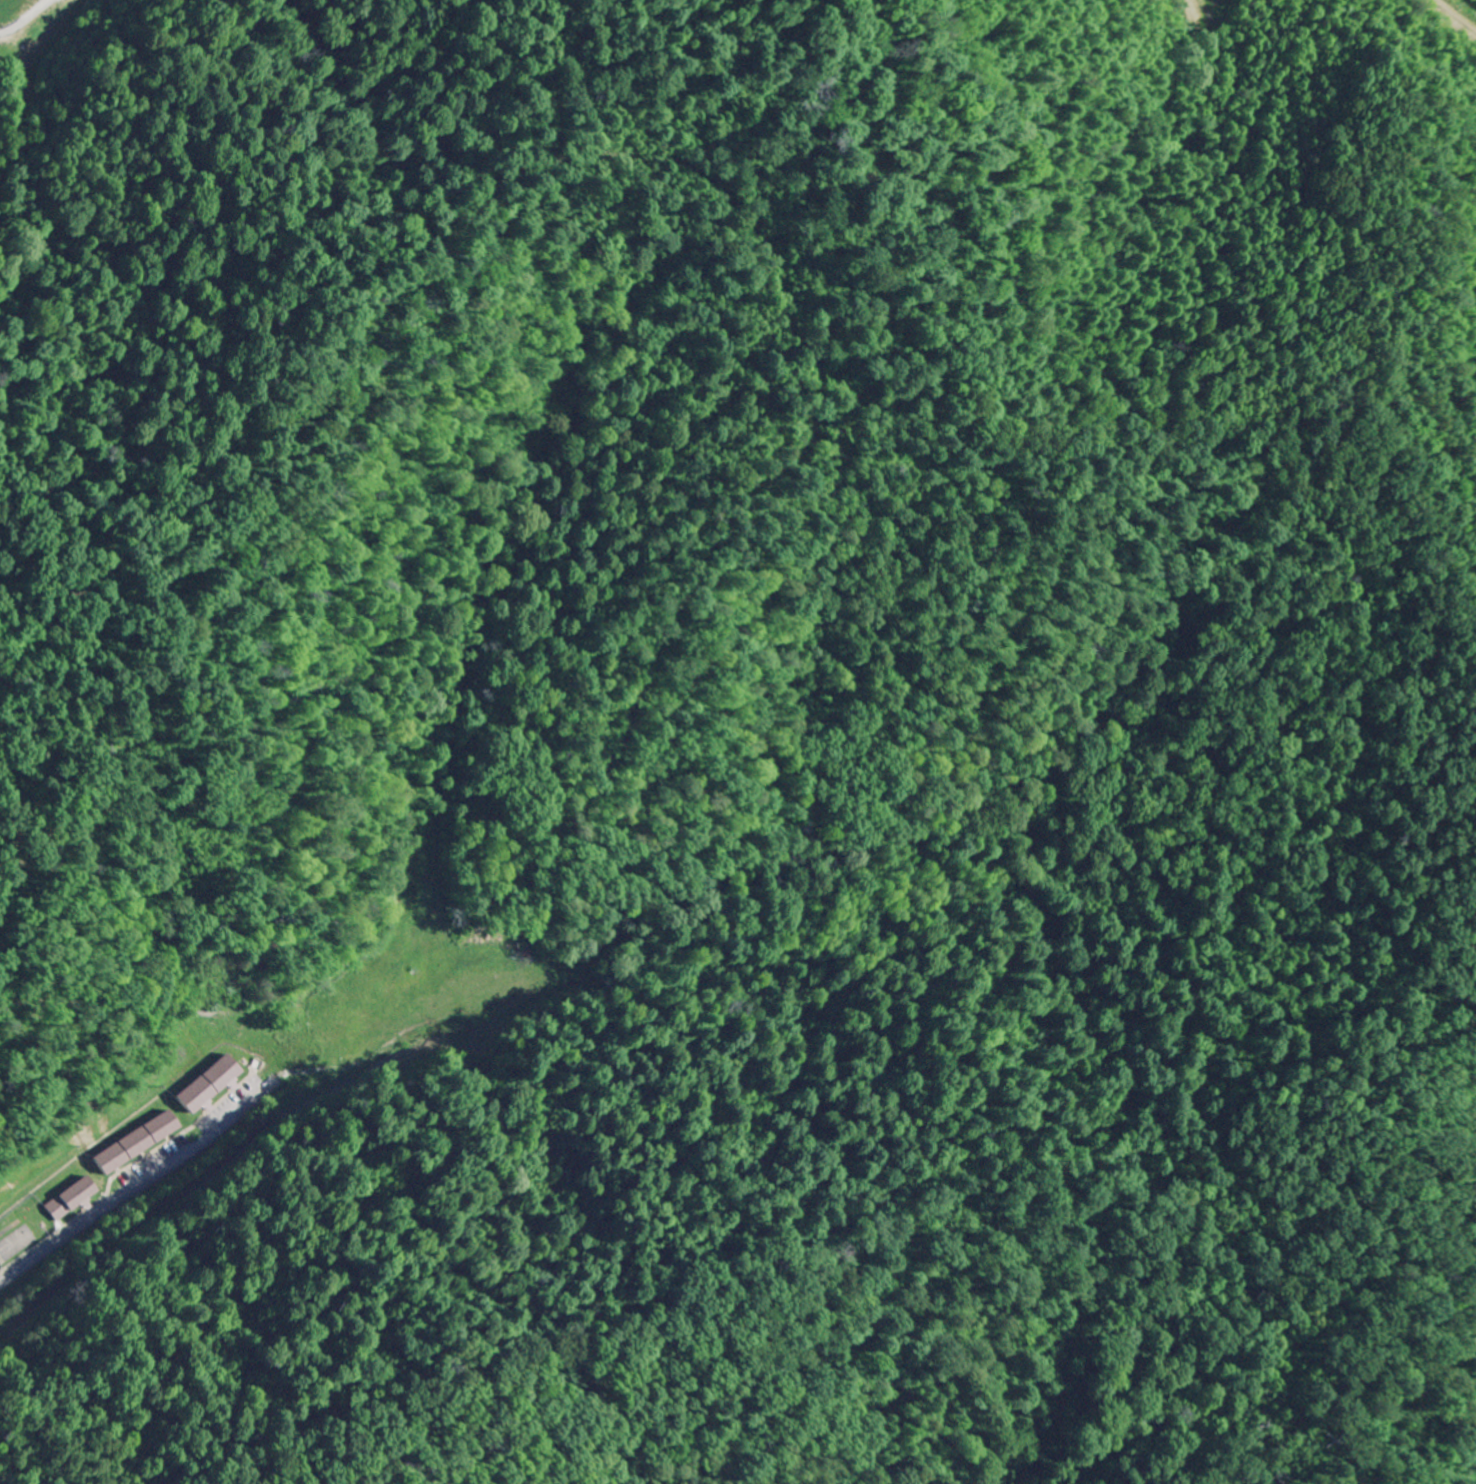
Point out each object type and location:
road: (8, 36)
building: (210, 1084)
building: (137, 1143)
road: (129, 1191)
building: (71, 1199)

